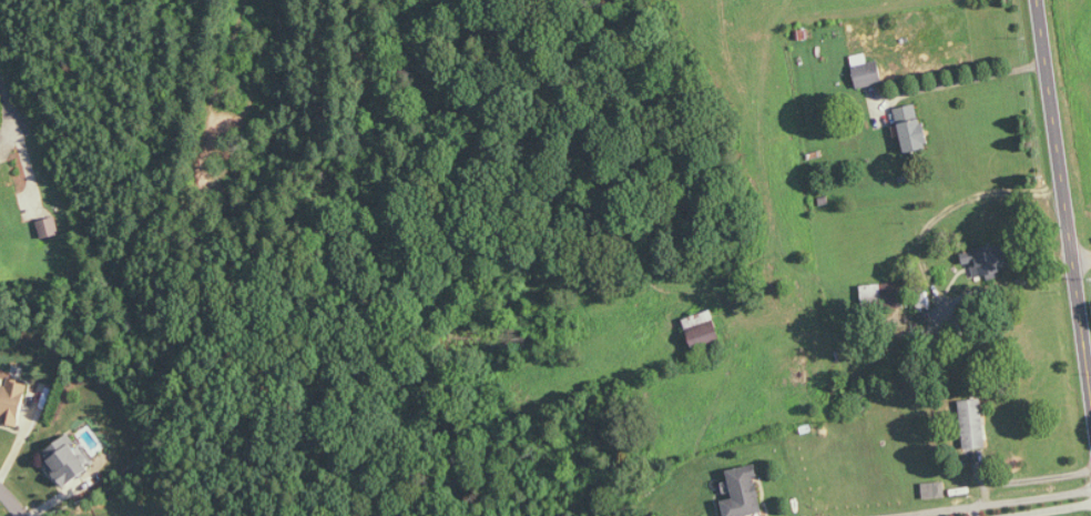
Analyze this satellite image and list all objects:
building: (866, 71)
road: (967, 78)
road: (9, 117)
building: (912, 128)
road: (1067, 211)
building: (49, 226)
road: (1081, 254)
building: (980, 260)
building: (703, 330)
building: (12, 403)
building: (973, 423)
building: (67, 463)
building: (935, 489)
building: (744, 493)
road: (985, 500)
road: (11, 502)

